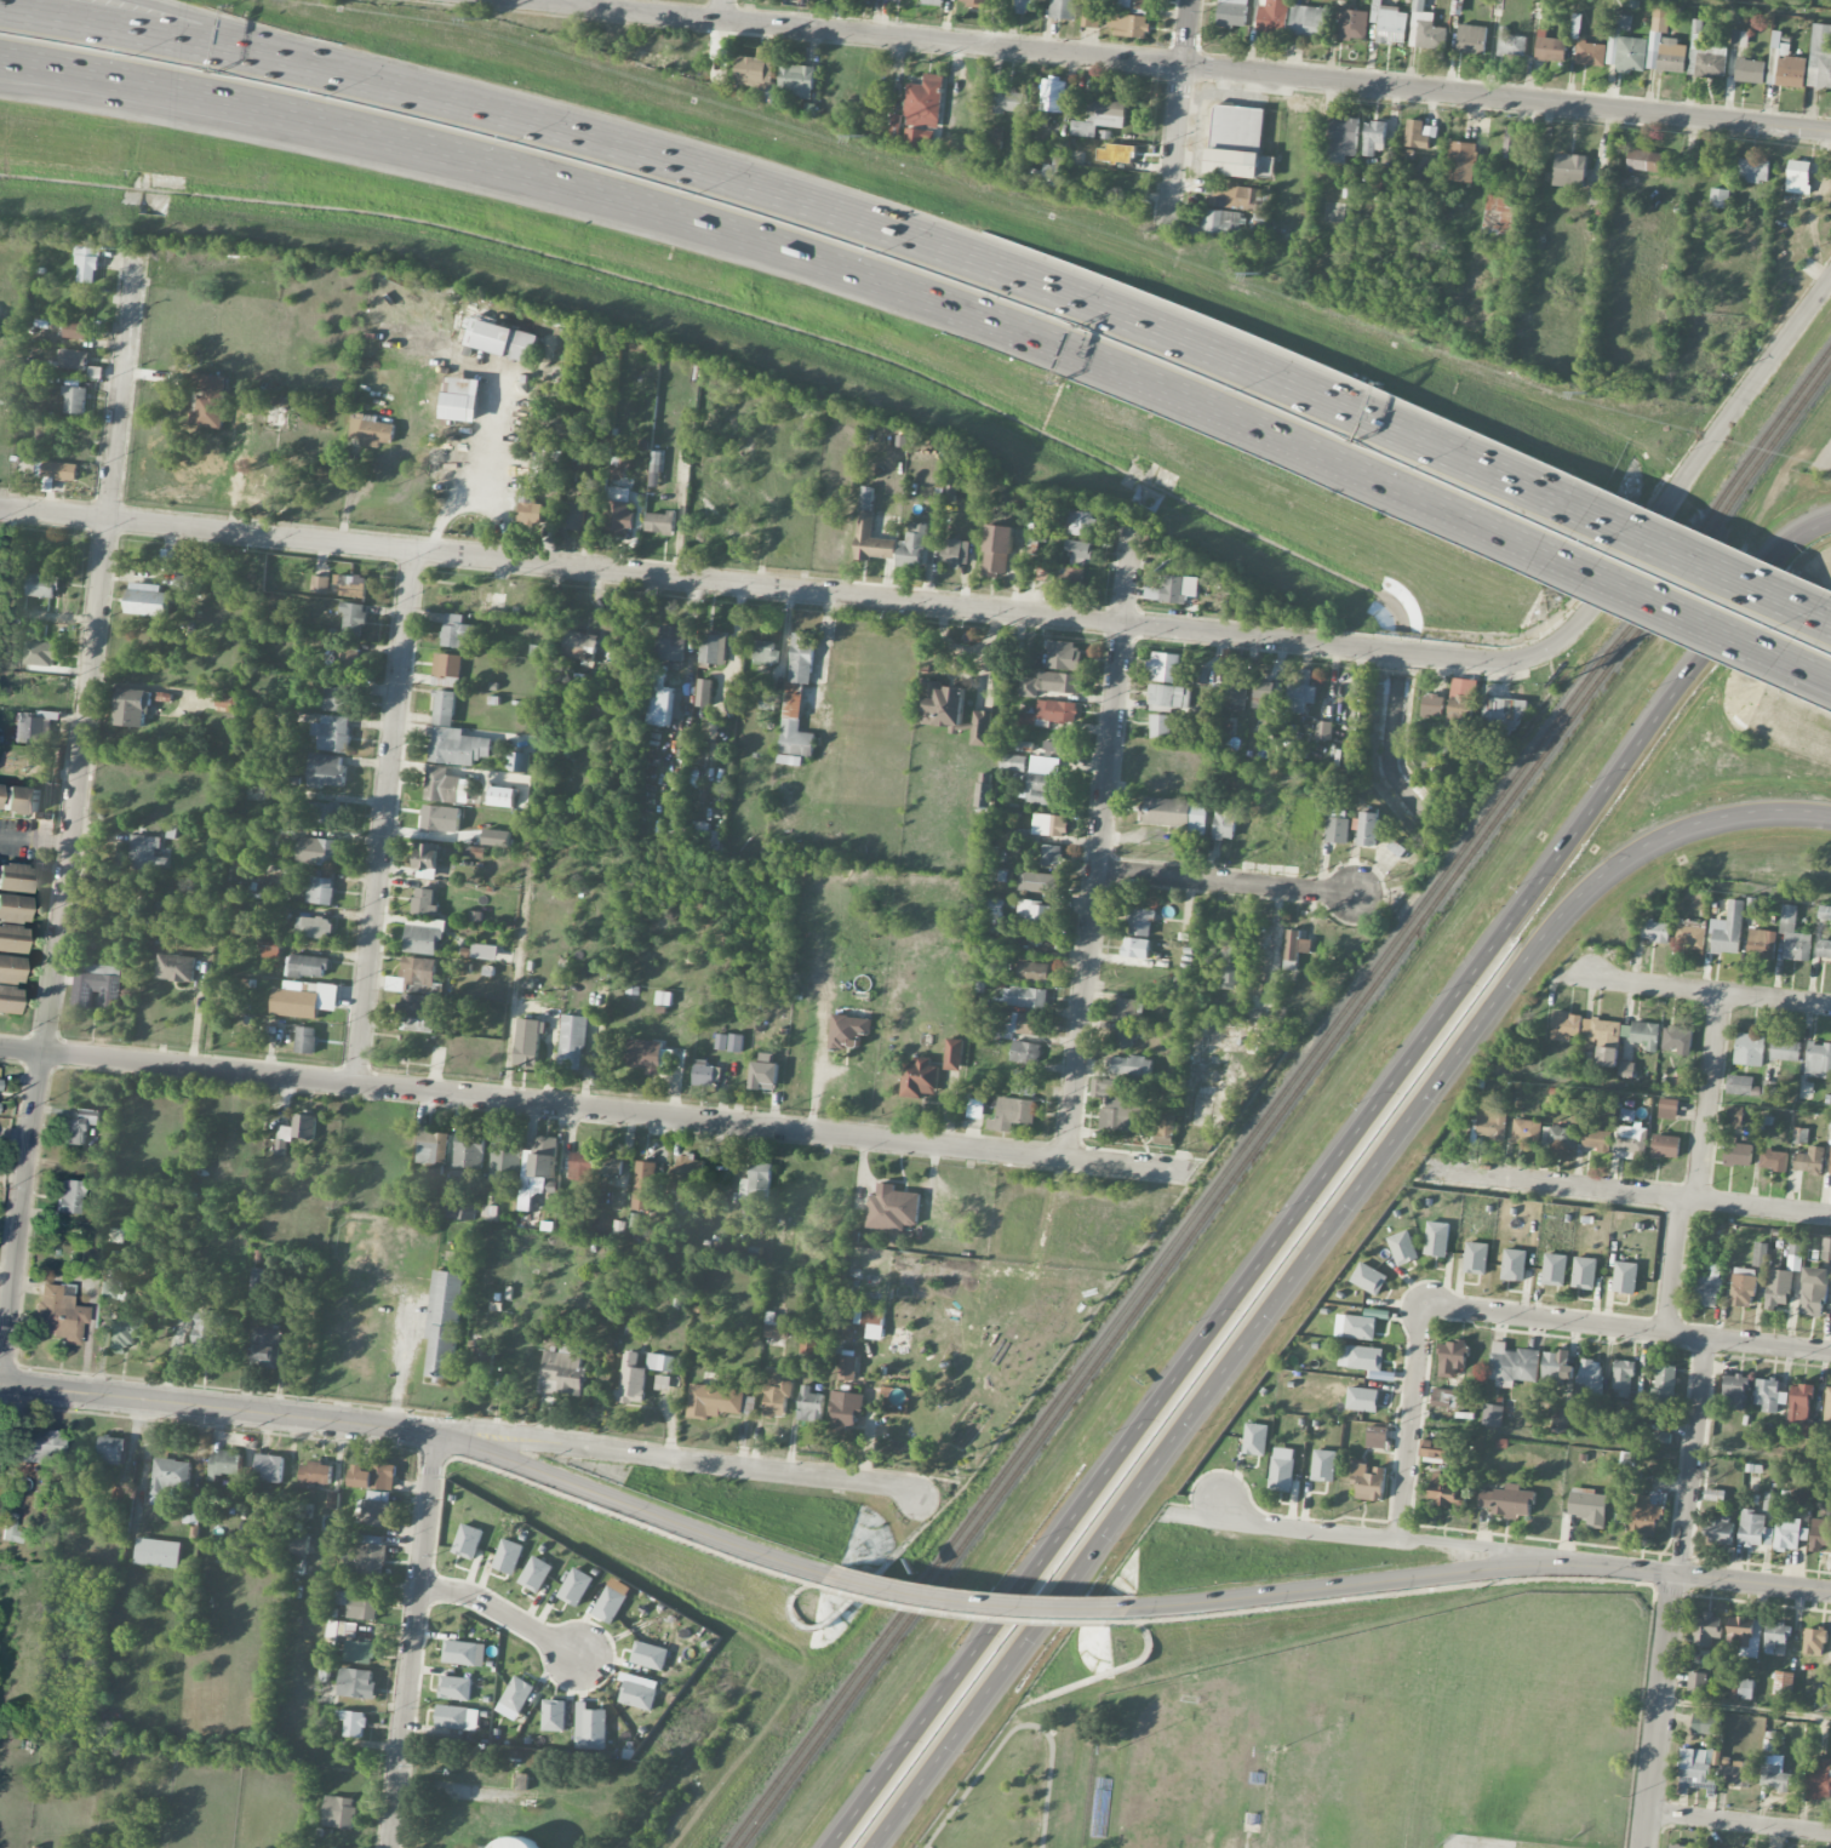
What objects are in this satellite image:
building: (905, 0)
building: (1339, 0)
building: (933, 2)
building: (973, 2)
building: (1134, 4)
building: (1025, 5)
building: (1064, 8)
road: (1739, 8)
road: (721, 11)
building: (1232, 13)
building: (1274, 16)
building: (1091, 18)
power tower: (485, 21)
building: (1308, 21)
building: (1390, 23)
building: (1352, 24)
building: (1129, 25)
building: (1425, 29)
road: (1189, 33)
road: (261, 35)
building: (1739, 38)
road: (194, 39)
building: (1472, 39)
building: (1511, 42)
building: (1665, 44)
building: (1625, 46)
building: (1550, 47)
building: (1591, 53)
building: (1820, 57)
building: (1706, 59)
road: (1171, 63)
building: (1786, 63)
building: (754, 68)
building: (1750, 70)
building: (797, 80)
building: (1053, 96)
building: (1008, 101)
road: (176, 110)
building: (922, 110)
building: (1102, 115)
building: (1419, 133)
power tower: (866, 137)
building: (994, 137)
building: (1374, 137)
building: (1343, 138)
building: (1510, 141)
building: (1238, 143)
road: (1177, 149)
building: (1644, 160)
building: (1460, 161)
building: (1569, 170)
building: (1753, 170)
building: (1052, 171)
building: (1798, 177)
building: (1596, 195)
building: (1241, 198)
building: (1720, 198)
building: (1499, 214)
building: (1220, 223)
road: (795, 256)
building: (87, 263)
road: (990, 265)
power tower: (1261, 279)
building: (79, 330)
building: (500, 339)
building: (74, 359)
power tower: (1585, 395)
building: (459, 399)
building: (75, 400)
building: (211, 404)
building: (371, 430)
road: (1825, 462)
building: (548, 465)
building: (619, 468)
road: (1687, 468)
road: (1825, 470)
building: (58, 473)
building: (681, 474)
building: (866, 497)
building: (532, 509)
building: (572, 515)
building: (617, 516)
building: (660, 522)
building: (872, 540)
building: (1031, 544)
building: (912, 547)
building: (1077, 548)
building: (997, 550)
building: (954, 553)
road: (1693, 565)
building: (1074, 578)
building: (187, 580)
building: (320, 584)
building: (42, 585)
building: (351, 585)
road: (767, 585)
building: (1178, 588)
building: (1152, 594)
building: (147, 600)
road: (1661, 611)
building: (353, 618)
road: (1823, 623)
building: (457, 630)
building: (670, 643)
building: (580, 646)
building: (713, 647)
building: (762, 652)
road: (823, 652)
building: (1063, 654)
building: (351, 660)
building: (1166, 666)
building: (448, 668)
road: (1801, 671)
road: (1801, 674)
building: (1049, 683)
building: (1236, 690)
building: (704, 692)
building: (1300, 692)
building: (1263, 696)
building: (1168, 697)
building: (337, 699)
building: (796, 700)
building: (228, 702)
building: (943, 704)
building: (660, 705)
building: (1435, 705)
building: (132, 706)
building: (445, 708)
road: (1659, 711)
building: (1051, 713)
building: (1460, 713)
building: (1503, 714)
building: (33, 726)
building: (1161, 726)
building: (980, 727)
building: (1323, 730)
building: (332, 733)
building: (1058, 744)
building: (458, 746)
building: (520, 761)
building: (1012, 762)
building: (325, 769)
building: (1041, 780)
building: (446, 786)
building: (983, 790)
building: (502, 796)
building: (21, 800)
building: (328, 812)
building: (1178, 813)
road: (74, 818)
road: (385, 818)
building: (440, 818)
building: (1225, 823)
building: (1048, 824)
building: (1338, 829)
building: (1368, 829)
road: (1099, 837)
road: (25, 839)
road: (1664, 841)
road: (62, 842)
building: (316, 851)
building: (147, 853)
building: (1049, 854)
building: (428, 860)
building: (15, 877)
road: (1226, 881)
building: (1040, 882)
building: (319, 891)
building: (424, 902)
building: (13, 908)
building: (1037, 911)
building: (1825, 912)
building: (1140, 922)
building: (313, 927)
building: (1728, 929)
building: (1655, 931)
building: (1793, 936)
building: (1690, 937)
building: (11, 938)
building: (1761, 943)
building: (1297, 945)
building: (1135, 948)
building: (269, 949)
building: (1824, 950)
building: (485, 951)
building: (305, 966)
building: (1232, 966)
building: (176, 967)
building: (10, 968)
building: (1032, 972)
building: (413, 973)
building: (98, 985)
road: (1706, 990)
building: (1024, 996)
building: (8, 999)
building: (304, 1001)
building: (1128, 1009)
building: (417, 1012)
building: (1019, 1025)
building: (1567, 1025)
road: (510, 1029)
building: (847, 1030)
building: (1602, 1031)
building: (1646, 1035)
building: (1125, 1037)
building: (1677, 1037)
building: (307, 1040)
building: (573, 1041)
building: (729, 1042)
building: (528, 1043)
building: (1749, 1049)
building: (1785, 1049)
building: (1024, 1052)
building: (645, 1054)
building: (952, 1054)
building: (1607, 1057)
building: (1818, 1060)
building: (1129, 1068)
building: (1626, 1068)
building: (763, 1072)
building: (703, 1074)
building: (919, 1079)
building: (1024, 1082)
building: (0, 1083)
building: (1739, 1085)
building: (1769, 1088)
road: (1707, 1095)
railway: (1280, 1098)
building: (1117, 1106)
railway: (1286, 1106)
building: (975, 1109)
building: (1667, 1109)
road: (596, 1110)
building: (1012, 1114)
building: (1734, 1116)
building: (1490, 1125)
building: (80, 1126)
building: (304, 1126)
building: (1165, 1126)
building: (1526, 1132)
building: (1799, 1135)
building: (1558, 1137)
building: (284, 1138)
building: (1596, 1138)
building: (433, 1146)
building: (1665, 1146)
building: (469, 1150)
building: (1738, 1154)
building: (544, 1156)
building: (505, 1157)
building: (1773, 1160)
building: (1809, 1161)
building: (582, 1166)
building: (611, 1167)
building: (688, 1172)
building: (756, 1184)
building: (645, 1185)
building: (527, 1186)
road: (1626, 1191)
building: (69, 1196)
building: (892, 1208)
building: (460, 1209)
building: (1437, 1238)
building: (1402, 1247)
building: (1826, 1248)
building: (1760, 1254)
building: (90, 1258)
building: (1476, 1258)
building: (1514, 1264)
road: (1673, 1266)
building: (1555, 1269)
building: (1584, 1272)
building: (1625, 1277)
building: (1368, 1278)
building: (259, 1283)
building: (113, 1286)
building: (1743, 1287)
building: (1778, 1288)
building: (1709, 1291)
building: (1813, 1291)
building: (57, 1314)
building: (871, 1320)
building: (444, 1322)
building: (1360, 1327)
road: (1626, 1329)
building: (125, 1331)
building: (776, 1331)
building: (207, 1332)
building: (267, 1348)
building: (1452, 1357)
building: (481, 1360)
building: (660, 1362)
building: (1512, 1364)
building: (847, 1367)
building: (1556, 1367)
building: (562, 1372)
building: (1591, 1374)
building: (1623, 1378)
building: (631, 1380)
building: (1664, 1385)
road: (1168, 1388)
building: (1734, 1390)
building: (776, 1392)
building: (1768, 1395)
road: (1201, 1397)
building: (1362, 1398)
building: (1444, 1398)
building: (714, 1401)
building: (809, 1404)
building: (1827, 1404)
building: (1802, 1409)
building: (846, 1411)
building: (1493, 1415)
building: (1560, 1420)
road: (1412, 1421)
road: (429, 1434)
building: (1377, 1436)
building: (1663, 1437)
building: (1255, 1438)
building: (36, 1447)
building: (110, 1449)
building: (1435, 1452)
road: (680, 1458)
building: (225, 1463)
building: (1323, 1465)
building: (269, 1467)
building: (1282, 1469)
building: (316, 1474)
building: (374, 1476)
building: (168, 1478)
building: (1368, 1481)
building: (1443, 1491)
building: (1507, 1501)
building: (1769, 1501)
building: (1587, 1506)
building: (376, 1507)
building: (193, 1510)
building: (1644, 1516)
building: (11, 1526)
building: (1752, 1528)
building: (1789, 1532)
building: (1722, 1533)
building: (1820, 1534)
road: (1404, 1539)
building: (468, 1540)
building: (301, 1544)
building: (158, 1552)
building: (366, 1554)
building: (508, 1556)
building: (536, 1574)
road: (1720, 1577)
road: (1361, 1583)
building: (576, 1586)
road: (1675, 1592)
road: (975, 1602)
building: (610, 1604)
building: (361, 1606)
road: (504, 1610)
building: (343, 1627)
building: (1705, 1629)
building: (1775, 1635)
building: (1745, 1636)
road: (414, 1641)
building: (1814, 1641)
building: (360, 1652)
building: (460, 1653)
building: (650, 1655)
building: (355, 1682)
building: (1696, 1682)
building: (1784, 1683)
building: (456, 1688)
building: (1746, 1688)
building: (637, 1690)
building: (515, 1698)
building: (554, 1715)
building: (457, 1717)
building: (1711, 1721)
building: (354, 1723)
building: (590, 1723)
building: (1696, 1770)
building: (1736, 1775)
building: (1774, 1775)
building: (1818, 1780)
park: (1029, 1784)
road: (458, 1791)
building: (338, 1812)
road: (1738, 1821)
building: (517, 1843)
building: (330, 1847)
building: (1680, 1847)

